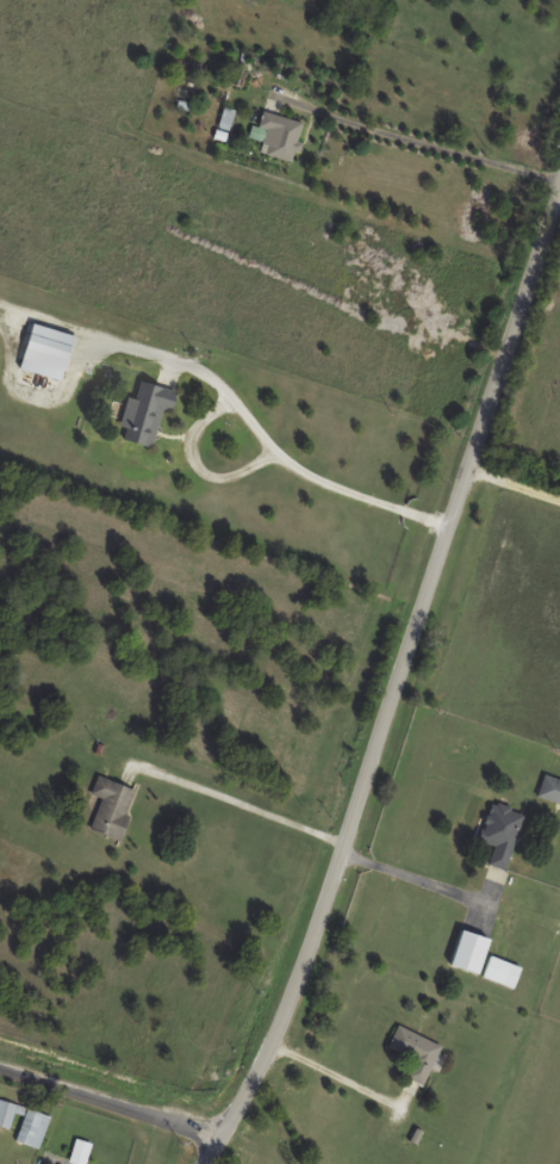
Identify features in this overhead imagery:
building: (281, 136)
road: (427, 141)
building: (145, 414)
road: (198, 466)
road: (300, 471)
road: (522, 483)
road: (399, 704)
building: (550, 790)
road: (243, 805)
building: (112, 809)
building: (502, 834)
road: (419, 879)
building: (502, 972)
building: (417, 1053)
road: (344, 1081)
road: (111, 1104)
building: (24, 1123)
building: (81, 1152)

